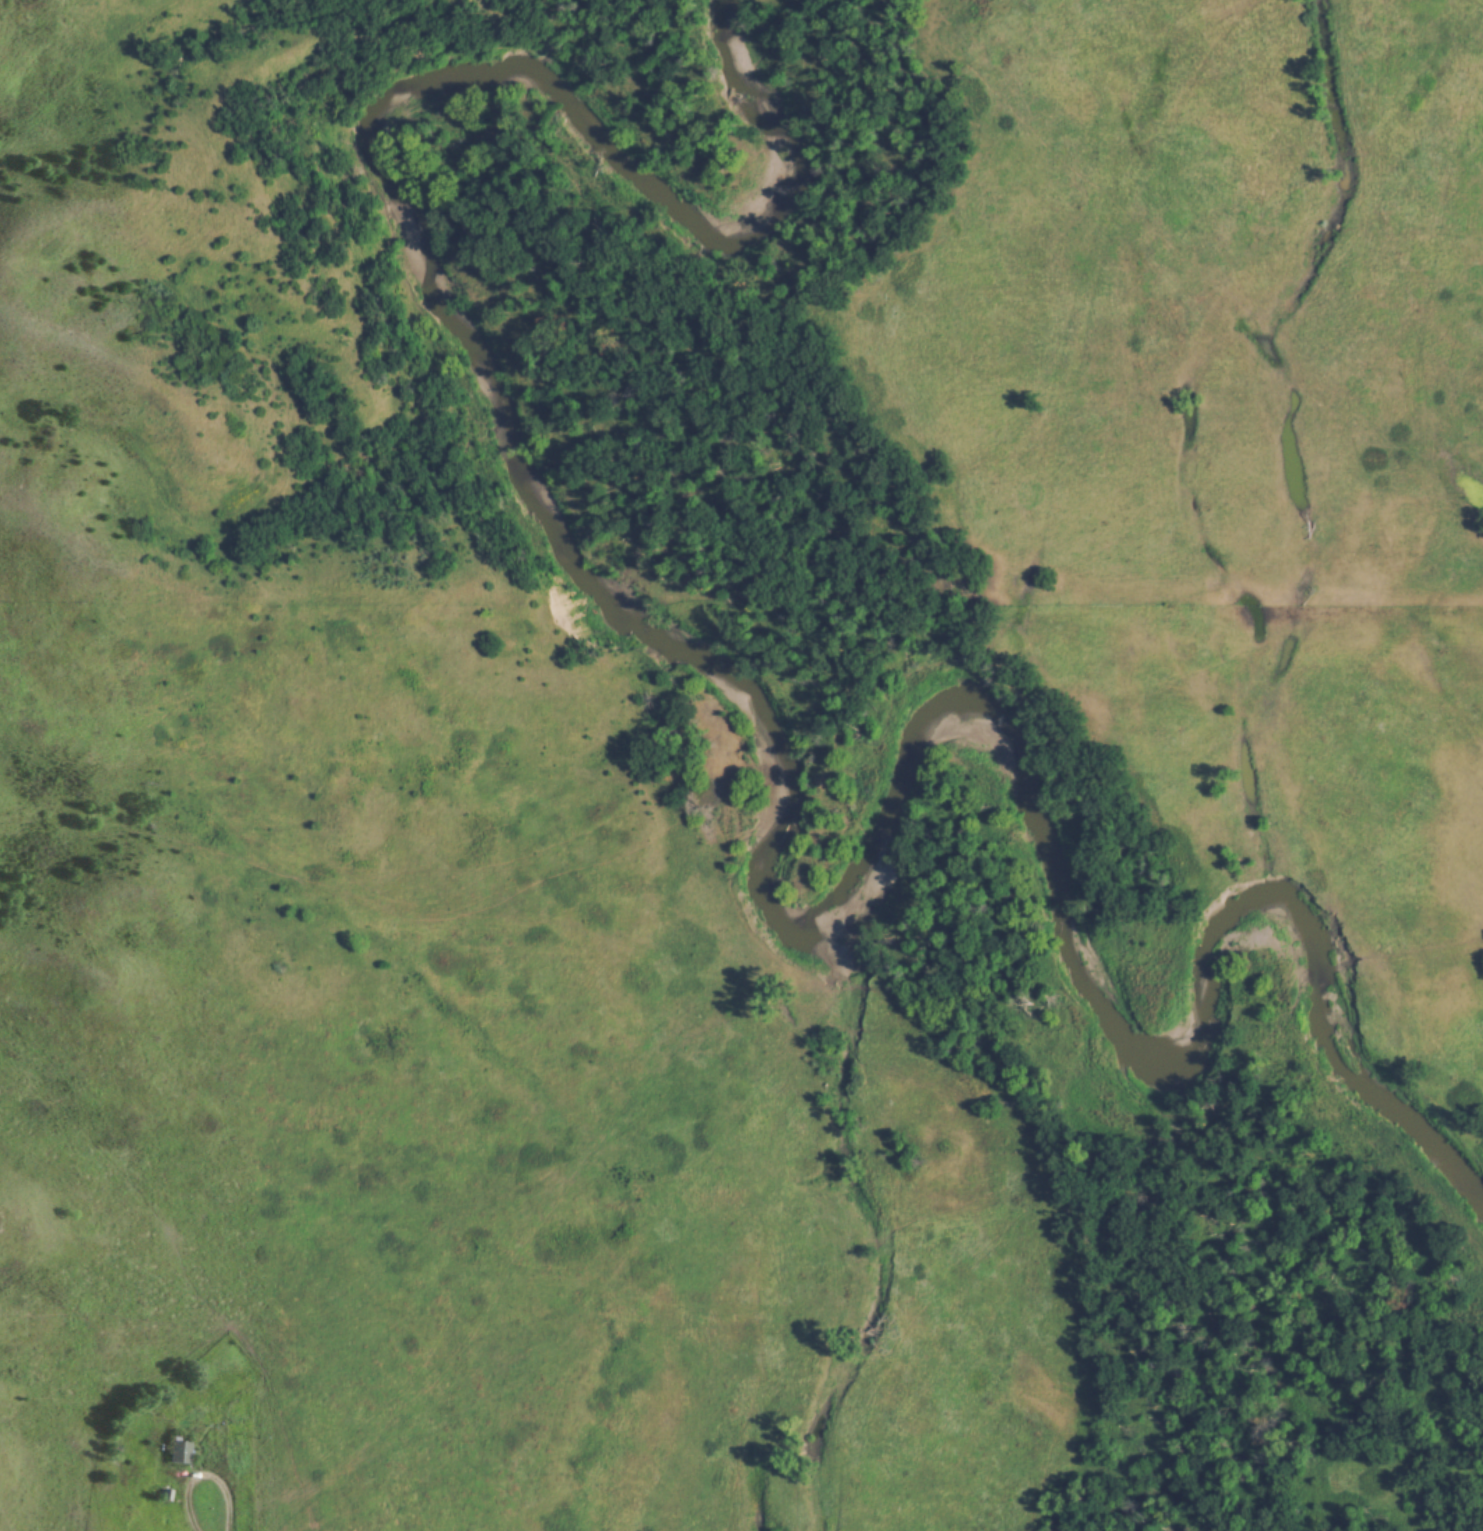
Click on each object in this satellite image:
river: (784, 829)
building: (179, 1453)

